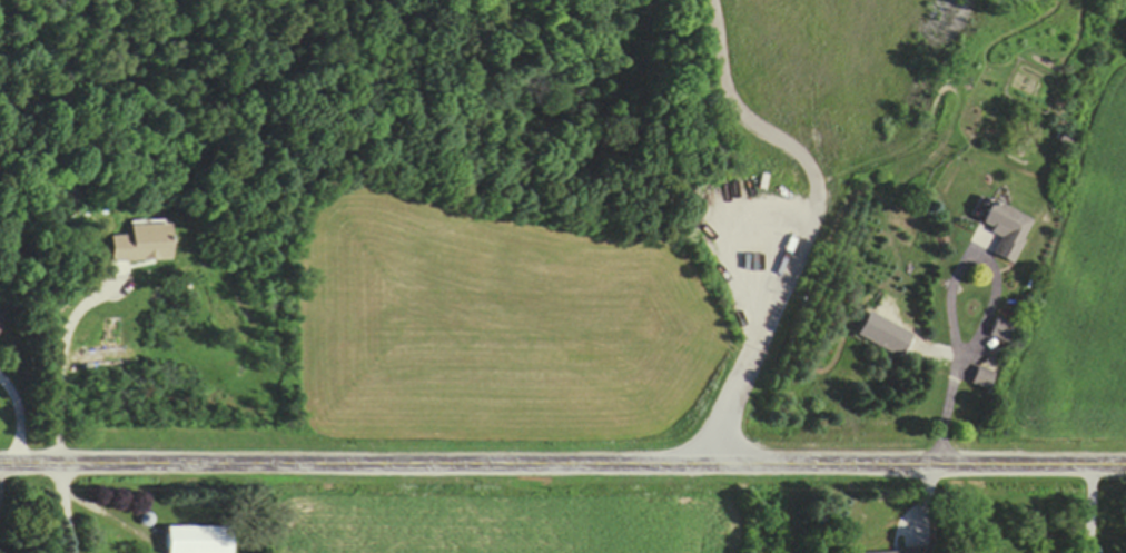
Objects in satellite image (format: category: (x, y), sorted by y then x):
building: (1004, 230)
building: (0, 314)
building: (1000, 330)
building: (981, 378)
road: (19, 418)
road: (562, 467)
road: (66, 508)
building: (197, 540)
building: (892, 551)

